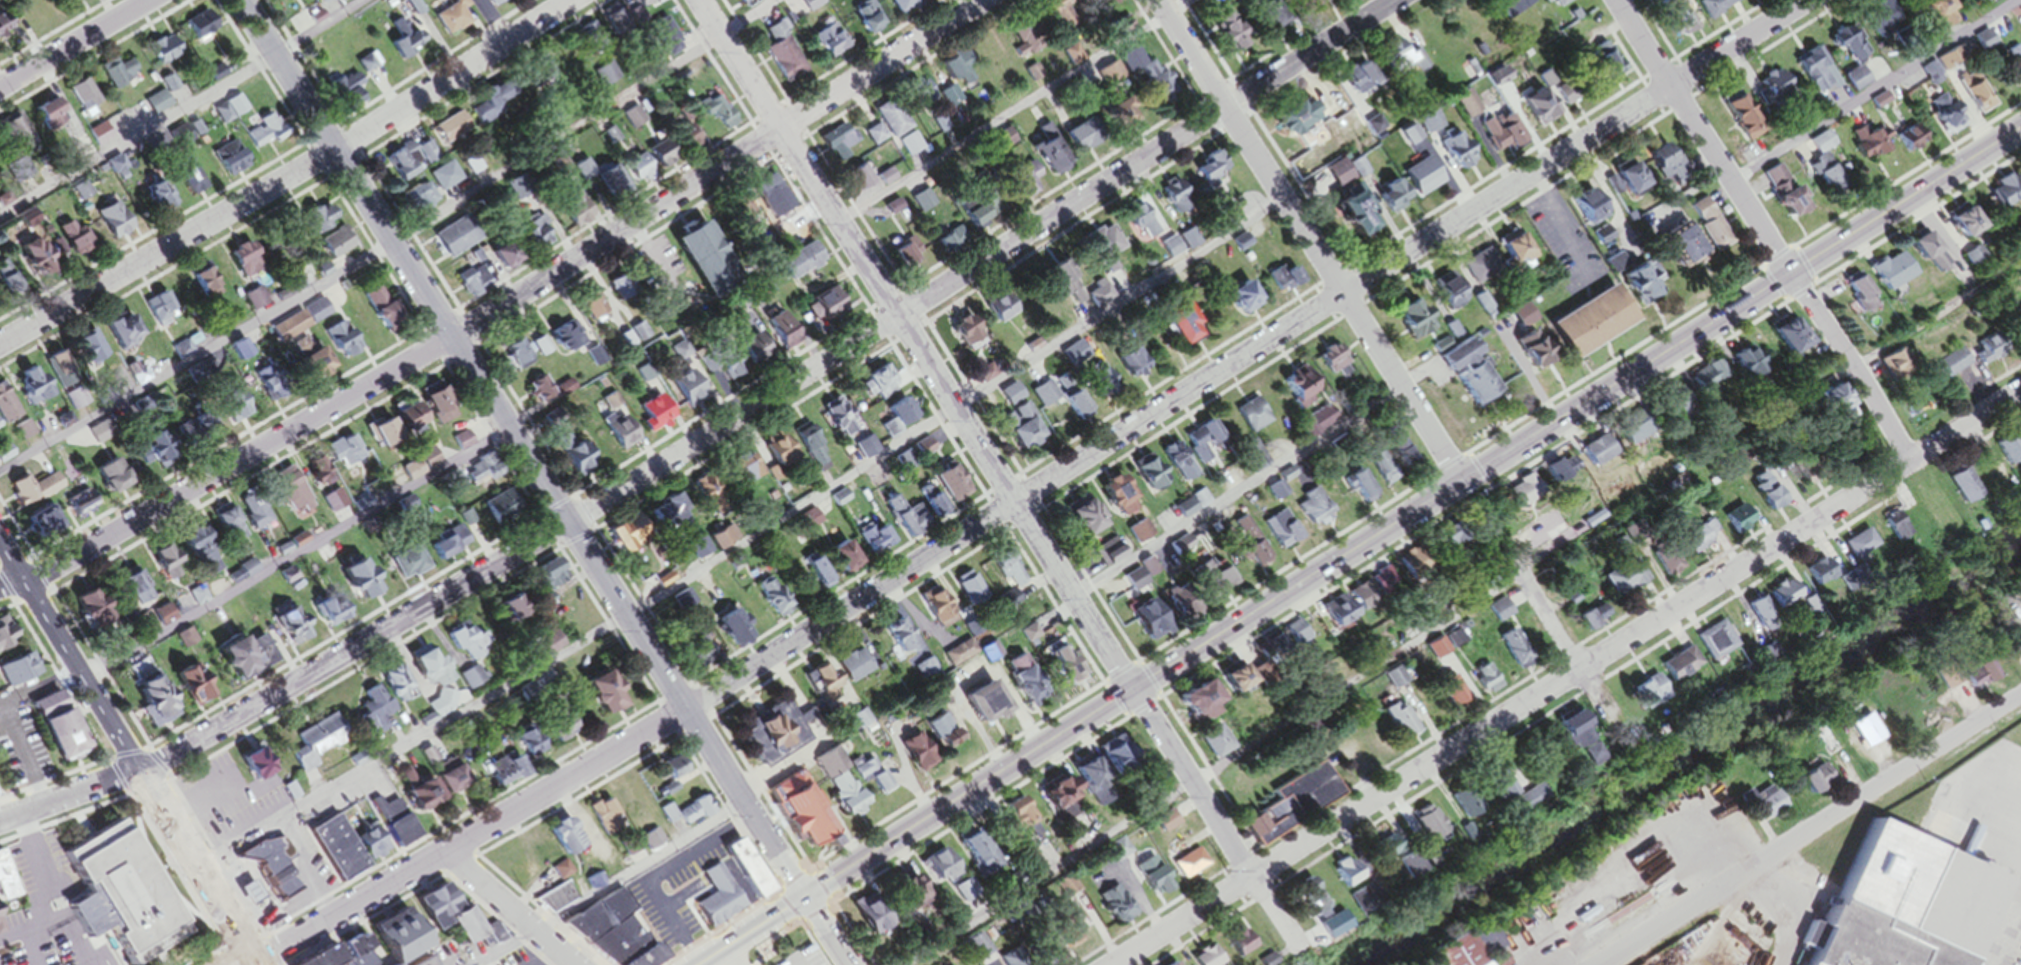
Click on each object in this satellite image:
building: (70, 0)
building: (1745, 0)
building: (2004, 0)
building: (290, 1)
building: (1089, 1)
building: (326, 2)
building: (491, 3)
building: (1552, 4)
building: (809, 6)
building: (1303, 6)
building: (897, 7)
building: (409, 8)
building: (35, 9)
building: (1046, 9)
building: (1507, 9)
building: (1714, 9)
building: (1930, 13)
building: (448, 20)
building: (864, 20)
building: (1678, 26)
building: (205, 27)
building: (1117, 30)
building: (1224, 36)
building: (1864, 39)
building: (662, 41)
road: (73, 42)
building: (825, 44)
building: (402, 48)
building: (170, 51)
building: (780, 57)
building: (1021, 57)
building: (1070, 59)
building: (1395, 61)
building: (1601, 67)
building: (955, 69)
building: (2013, 70)
building: (536, 75)
building: (1815, 75)
building: (122, 76)
building: (1031, 76)
building: (605, 79)
building: (1110, 82)
building: (1853, 83)
building: (172, 86)
building: (1155, 88)
road: (1873, 89)
building: (1774, 93)
building: (908, 94)
building: (1561, 94)
building: (86, 99)
building: (1969, 99)
building: (947, 100)
building: (160, 105)
road: (185, 108)
building: (1462, 108)
building: (1534, 113)
building: (227, 114)
road: (1021, 114)
building: (491, 115)
building: (53, 117)
building: (715, 118)
building: (1112, 118)
building: (1944, 120)
building: (1294, 122)
building: (889, 123)
building: (452, 131)
building: (266, 134)
building: (15, 137)
building: (1496, 137)
building: (872, 139)
building: (1906, 144)
building: (834, 145)
building: (1000, 145)
building: (1767, 146)
building: (1867, 147)
building: (685, 148)
building: (1817, 148)
building: (908, 149)
building: (1450, 155)
building: (1050, 159)
building: (233, 161)
building: (659, 161)
building: (409, 163)
building: (1661, 165)
building: (635, 172)
building: (1207, 172)
road: (289, 177)
building: (441, 181)
building: (600, 181)
building: (855, 182)
building: (1416, 182)
building: (1771, 182)
building: (1824, 182)
building: (1623, 183)
building: (195, 184)
building: (1023, 184)
building: (763, 192)
building: (84, 194)
building: (160, 195)
building: (1999, 195)
building: (1385, 200)
building: (1176, 203)
building: (410, 204)
building: (922, 206)
building: (1783, 207)
building: (737, 211)
building: (889, 211)
building: (569, 213)
building: (1583, 213)
building: (971, 217)
building: (1224, 218)
building: (1342, 220)
building: (325, 221)
building: (118, 222)
building: (1142, 223)
building: (1953, 227)
building: (1703, 229)
road: (1763, 231)
building: (531, 237)
road: (1310, 238)
building: (453, 241)
building: (340, 245)
road: (397, 245)
building: (945, 246)
building: (61, 249)
building: (1241, 249)
building: (1170, 251)
building: (1103, 252)
building: (1670, 252)
building: (688, 255)
building: (1917, 255)
building: (1511, 257)
building: (897, 259)
building: (250, 261)
building: (497, 261)
building: (796, 266)
building: (327, 271)
building: (1480, 274)
building: (1881, 276)
building: (1283, 280)
building: (1055, 282)
building: (13, 285)
building: (1631, 285)
building: (471, 286)
building: (208, 288)
building: (1849, 295)
building: (1444, 296)
building: (1094, 297)
road: (509, 299)
building: (1237, 301)
building: (255, 302)
building: (587, 309)
building: (161, 312)
building: (387, 313)
building: (993, 313)
building: (821, 315)
building: (1406, 320)
building: (303, 323)
building: (1170, 326)
building: (1579, 327)
building: (663, 328)
road: (1920, 329)
building: (2018, 331)
building: (125, 335)
building: (777, 335)
building: (631, 338)
building: (964, 340)
building: (1779, 340)
building: (554, 342)
building: (346, 343)
building: (86, 356)
building: (514, 356)
building: (1524, 356)
building: (751, 357)
building: (592, 359)
building: (1070, 359)
building: (1323, 363)
building: (323, 365)
building: (1883, 366)
building: (1950, 366)
building: (1127, 367)
building: (1733, 367)
building: (719, 372)
building: (1460, 378)
building: (1692, 380)
building: (45, 382)
building: (873, 384)
building: (1093, 385)
building: (538, 392)
road: (772, 394)
building: (1291, 397)
building: (1006, 399)
building: (1040, 399)
building: (686, 400)
building: (1827, 407)
building: (1072, 409)
building: (8, 410)
building: (244, 412)
building: (1666, 412)
building: (432, 414)
building: (651, 418)
building: (1251, 418)
building: (835, 420)
building: (894, 423)
building: (1312, 426)
building: (1013, 431)
building: (202, 432)
building: (24, 434)
building: (101, 434)
building: (394, 435)
building: (1619, 440)
building: (465, 444)
building: (804, 445)
building: (1202, 446)
building: (1394, 450)
building: (166, 452)
building: (773, 454)
building: (2005, 454)
building: (6, 456)
building: (1248, 461)
building: (339, 463)
building: (569, 467)
building: (1176, 467)
building: (424, 468)
building: (479, 473)
building: (742, 474)
building: (117, 478)
building: (1146, 478)
road: (544, 482)
road: (1003, 482)
building: (948, 487)
road: (1037, 488)
building: (1960, 489)
building: (1355, 490)
building: (37, 493)
road: (1241, 494)
building: (296, 495)
building: (702, 495)
building: (1764, 499)
building: (1114, 500)
building: (1197, 503)
building: (81, 505)
building: (927, 505)
building: (507, 509)
building: (1308, 511)
building: (257, 512)
building: (667, 513)
building: (896, 518)
building: (1076, 521)
building: (51, 523)
building: (807, 525)
building: (1735, 525)
building: (232, 526)
building: (1169, 529)
building: (1892, 532)
building: (1277, 533)
building: (1137, 535)
building: (1698, 540)
building: (722, 541)
road: (1358, 544)
building: (451, 545)
building: (872, 545)
building: (1244, 548)
building: (1854, 549)
road: (744, 551)
building: (208, 553)
building: (1105, 557)
building: (167, 558)
building: (837, 561)
building: (1663, 565)
building: (1400, 572)
building: (1004, 573)
building: (245, 574)
building: (814, 576)
building: (1814, 576)
road: (260, 577)
building: (556, 577)
building: (2020, 579)
building: (1209, 580)
road: (11, 581)
building: (1620, 582)
building: (367, 583)
building: (1372, 588)
building: (139, 591)
building: (969, 592)
building: (1778, 599)
building: (772, 600)
building: (683, 603)
road: (1541, 609)
building: (100, 610)
building: (521, 611)
building: (1134, 611)
building: (335, 613)
building: (935, 613)
building: (1497, 614)
building: (1178, 615)
building: (166, 616)
building: (1326, 616)
building: (1588, 620)
building: (294, 625)
building: (731, 632)
building: (1027, 638)
building: (898, 642)
building: (1452, 643)
building: (470, 644)
building: (550, 644)
building: (1714, 644)
building: (4, 646)
building: (1435, 651)
building: (1512, 653)
building: (698, 654)
road: (70, 656)
building: (1266, 656)
building: (959, 657)
building: (247, 661)
building: (1057, 666)
building: (853, 671)
building: (1677, 671)
building: (437, 673)
building: (926, 673)
building: (22, 674)
road: (1566, 677)
building: (1962, 678)
building: (473, 681)
building: (1484, 684)
building: (1223, 685)
building: (821, 686)
building: (201, 691)
building: (1024, 694)
building: (153, 695)
building: (1448, 695)
building: (611, 696)
building: (1646, 697)
building: (61, 703)
building: (974, 708)
building: (1186, 711)
building: (858, 724)
building: (1398, 724)
building: (565, 729)
building: (1563, 733)
building: (71, 736)
building: (1863, 736)
building: (936, 737)
building: (763, 738)
building: (534, 742)
building: (1821, 742)
building: (321, 744)
parking lot: (23, 746)
building: (1207, 747)
building: (909, 755)
building: (1107, 758)
building: (261, 767)
road: (1212, 769)
building: (679, 770)
building: (510, 773)
building: (1079, 778)
building: (868, 779)
building: (1811, 782)
building: (460, 783)
building: (1492, 789)
road: (69, 794)
parking lot: (230, 795)
building: (840, 798)
building: (1052, 804)
building: (1522, 805)
building: (1761, 806)
building: (1460, 808)
building: (1287, 810)
building: (635, 811)
building: (692, 816)
building: (799, 818)
building: (611, 820)
building: (396, 824)
building: (1160, 827)
building: (1423, 828)
road: (1812, 830)
building: (572, 840)
building: (654, 843)
building: (345, 852)
building: (1380, 853)
building: (1115, 856)
building: (971, 860)
building: (1025, 866)
road: (197, 868)
building: (526, 869)
building: (933, 869)
building: (1185, 869)
road: (47, 871)
building: (756, 873)
building: (564, 874)
building: (1344, 880)
building: (1148, 881)
building: (7, 882)
building: (127, 886)
parking lot: (682, 886)
road: (611, 888)
building: (1061, 891)
building: (960, 894)
building: (899, 896)
building: (257, 897)
building: (560, 902)
building: (722, 902)
building: (1307, 904)
building: (1902, 907)
road: (514, 909)
building: (1112, 909)
parking lot: (47, 910)
road: (1778, 915)
building: (463, 919)
road: (57, 921)
building: (862, 921)
building: (1057, 934)
building: (618, 936)
building: (391, 946)
building: (1230, 946)
road: (34, 948)
building: (77, 950)
building: (1466, 950)
building: (1037, 954)
parking lot: (804, 955)
road: (726, 957)
building: (1202, 959)
building: (35, 963)

